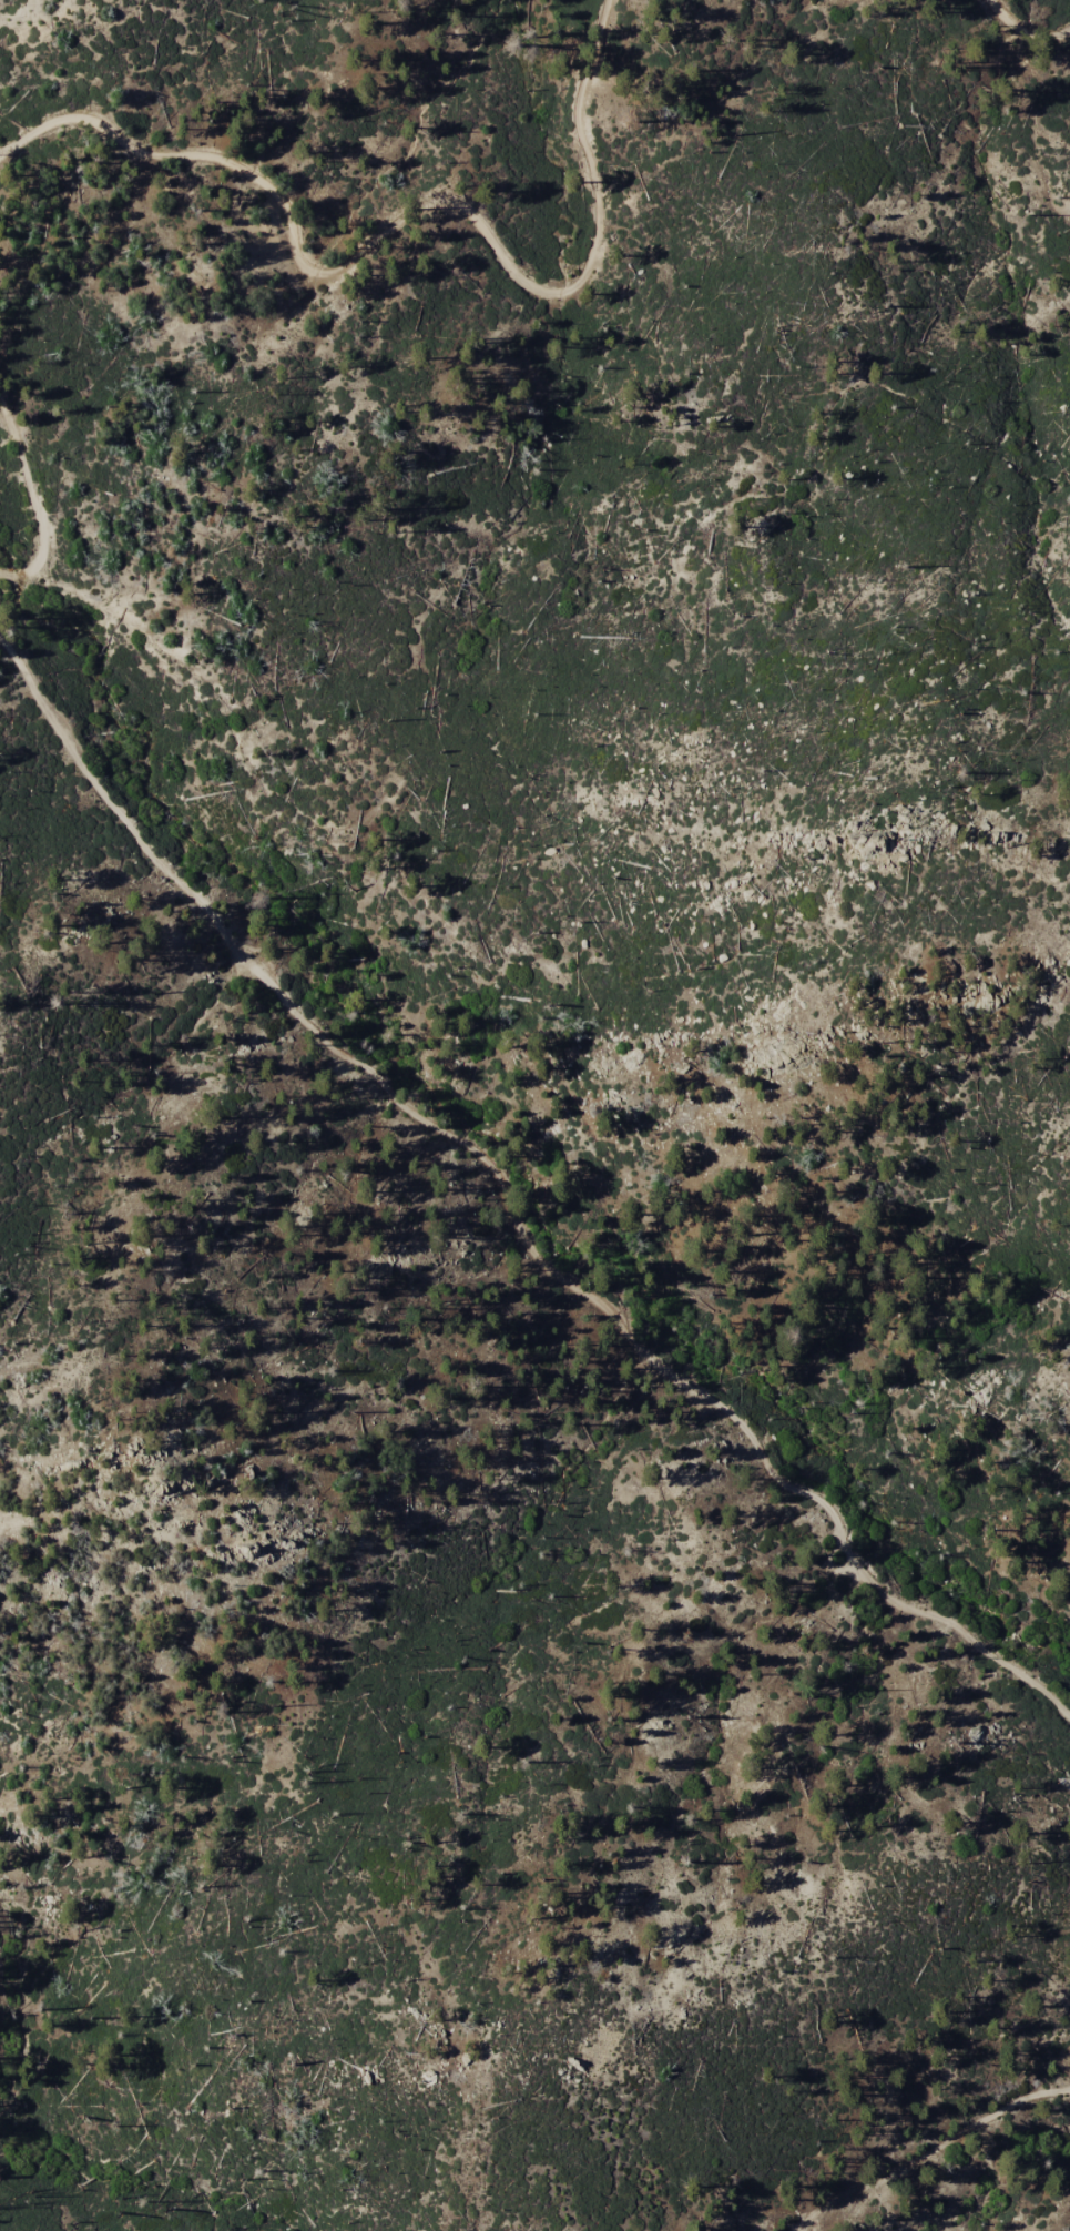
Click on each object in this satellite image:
road: (1026, 26)
road: (402, 219)
road: (31, 497)
road: (514, 1216)
road: (926, 2151)

